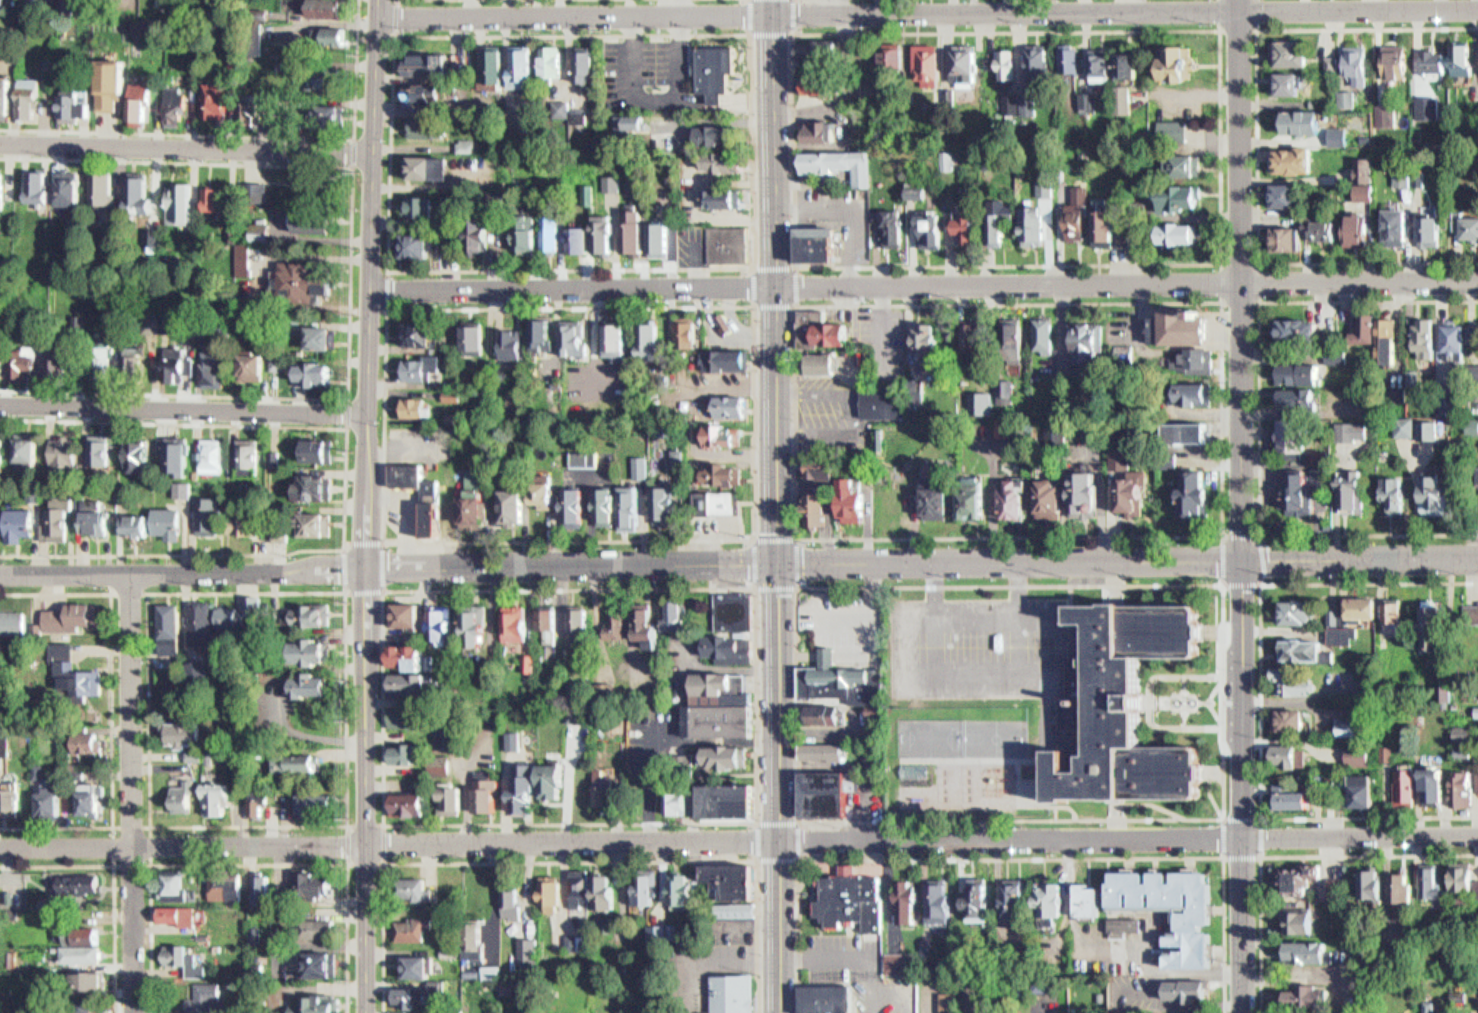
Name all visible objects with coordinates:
building: (2, 3)
building: (314, 7)
road: (1359, 9)
road: (807, 11)
building: (57, 16)
building: (319, 18)
road: (1238, 28)
road: (770, 33)
road: (393, 35)
building: (137, 39)
building: (321, 48)
building: (817, 48)
building: (247, 49)
building: (1296, 52)
building: (895, 57)
building: (1466, 58)
building: (554, 60)
building: (1071, 60)
building: (433, 61)
building: (1040, 61)
building: (1435, 61)
building: (1183, 62)
building: (1399, 62)
building: (1106, 63)
building: (928, 64)
building: (1004, 64)
building: (1133, 64)
building: (1360, 64)
building: (590, 65)
building: (500, 66)
building: (524, 66)
building: (967, 66)
building: (719, 69)
building: (278, 76)
building: (1291, 82)
building: (816, 84)
building: (430, 92)
building: (326, 95)
building: (106, 96)
building: (30, 98)
building: (219, 98)
building: (1128, 99)
building: (142, 103)
building: (1011, 103)
building: (74, 105)
building: (258, 107)
building: (1, 110)
building: (21, 110)
building: (133, 112)
building: (213, 115)
building: (337, 115)
building: (67, 116)
building: (175, 117)
building: (298, 118)
building: (1305, 121)
building: (274, 122)
building: (633, 124)
building: (243, 126)
building: (429, 126)
building: (321, 127)
building: (824, 130)
building: (1182, 131)
building: (721, 133)
road: (1257, 143)
building: (468, 145)
road: (252, 148)
road: (359, 151)
road: (184, 157)
building: (1299, 159)
building: (725, 160)
building: (841, 164)
building: (1187, 164)
building: (432, 166)
building: (1369, 179)
building: (40, 185)
building: (72, 186)
building: (103, 188)
building: (141, 188)
building: (324, 188)
building: (2, 189)
building: (921, 191)
building: (1287, 194)
building: (724, 197)
building: (1185, 197)
building: (216, 198)
building: (181, 202)
building: (424, 206)
building: (1081, 221)
building: (320, 222)
building: (1472, 223)
building: (1038, 225)
building: (970, 226)
building: (1403, 226)
building: (894, 227)
building: (1001, 227)
building: (931, 228)
building: (1114, 228)
building: (1325, 229)
building: (1361, 229)
building: (637, 230)
building: (1437, 230)
building: (261, 232)
building: (1185, 232)
building: (554, 233)
building: (608, 233)
building: (487, 235)
building: (1288, 237)
building: (582, 238)
building: (531, 239)
building: (663, 239)
building: (820, 243)
building: (421, 244)
building: (729, 244)
road: (1221, 262)
road: (389, 270)
road: (1359, 280)
building: (307, 281)
road: (350, 283)
road: (804, 285)
road: (1256, 301)
road: (1218, 305)
road: (794, 306)
road: (386, 307)
road: (385, 313)
building: (721, 315)
building: (1189, 326)
building: (1308, 326)
building: (1370, 327)
building: (833, 331)
building: (420, 333)
building: (547, 333)
building: (689, 333)
building: (978, 334)
building: (322, 335)
building: (1430, 335)
building: (1045, 336)
building: (1460, 336)
building: (578, 337)
building: (477, 338)
building: (930, 338)
building: (1017, 338)
building: (621, 339)
building: (656, 339)
building: (1391, 339)
building: (1089, 341)
building: (516, 343)
building: (734, 354)
building: (3, 357)
building: (1339, 357)
building: (133, 359)
building: (25, 360)
building: (64, 360)
building: (1202, 360)
building: (179, 361)
building: (825, 361)
building: (255, 362)
building: (102, 365)
building: (214, 365)
building: (421, 366)
building: (311, 373)
building: (1305, 373)
building: (1196, 393)
road: (349, 396)
building: (1305, 397)
building: (885, 400)
building: (735, 402)
building: (1451, 405)
road: (182, 407)
building: (415, 407)
parking lot: (828, 412)
road: (1259, 416)
building: (1473, 424)
building: (1406, 425)
building: (1429, 429)
building: (1357, 430)
building: (1192, 431)
building: (724, 432)
building: (1297, 434)
building: (27, 446)
building: (1, 447)
building: (66, 450)
building: (321, 450)
building: (101, 454)
building: (212, 455)
building: (248, 455)
building: (139, 456)
building: (178, 457)
building: (587, 457)
building: (643, 467)
building: (734, 469)
building: (821, 469)
building: (317, 486)
road: (344, 488)
building: (183, 489)
building: (1356, 489)
building: (1092, 490)
building: (1305, 490)
building: (1136, 492)
building: (1201, 492)
building: (1399, 492)
building: (1440, 493)
building: (543, 494)
building: (424, 495)
building: (940, 496)
building: (1054, 497)
building: (728, 498)
building: (856, 498)
building: (1017, 499)
building: (666, 503)
building: (975, 503)
building: (576, 505)
road: (364, 506)
road: (776, 506)
road: (1242, 506)
building: (606, 507)
building: (632, 507)
building: (820, 507)
building: (477, 509)
building: (513, 511)
building: (212, 515)
building: (100, 520)
building: (171, 520)
building: (24, 523)
building: (316, 523)
building: (138, 524)
building: (251, 524)
building: (282, 529)
road: (1360, 558)
traffic signals: (1242, 560)
traffic signals: (778, 561)
road: (620, 564)
road: (936, 579)
road: (1020, 579)
road: (1260, 582)
road: (796, 584)
road: (383, 585)
road: (345, 590)
road: (111, 591)
building: (255, 604)
building: (1367, 606)
building: (733, 610)
building: (1300, 611)
building: (408, 613)
building: (313, 614)
building: (1338, 615)
building: (231, 616)
building: (675, 616)
building: (73, 617)
building: (203, 621)
building: (620, 621)
building: (514, 622)
building: (577, 622)
building: (645, 622)
building: (14, 623)
building: (443, 623)
building: (548, 624)
building: (1438, 626)
building: (479, 627)
building: (171, 628)
building: (1338, 634)
parking lot: (988, 646)
building: (730, 647)
building: (1305, 649)
building: (315, 650)
building: (412, 655)
building: (526, 660)
building: (77, 673)
building: (840, 678)
building: (1295, 681)
building: (408, 683)
building: (313, 684)
road: (1259, 701)
building: (719, 706)
building: (1131, 709)
road: (112, 710)
building: (877, 711)
building: (1476, 711)
building: (827, 715)
building: (406, 717)
building: (1291, 720)
building: (1351, 726)
building: (187, 732)
building: (1462, 733)
park: (934, 737)
park: (998, 737)
building: (89, 741)
building: (510, 742)
building: (5, 745)
building: (821, 751)
building: (409, 753)
building: (1355, 753)
building: (1292, 755)
building: (726, 757)
road: (976, 759)
road: (1049, 760)
building: (298, 763)
building: (440, 764)
building: (918, 770)
building: (549, 781)
building: (1405, 783)
building: (602, 784)
building: (1438, 784)
building: (1361, 788)
building: (1466, 788)
building: (521, 790)
road: (131, 792)
building: (485, 792)
building: (824, 794)
building: (12, 796)
building: (187, 796)
building: (1292, 797)
building: (92, 798)
building: (219, 798)
building: (451, 800)
building: (726, 801)
building: (53, 803)
building: (258, 803)
building: (318, 803)
building: (676, 803)
building: (411, 804)
road: (1148, 804)
road: (1070, 807)
road: (1222, 816)
road: (1222, 819)
road: (754, 821)
road: (1359, 836)
road: (620, 839)
road: (1290, 855)
road: (1010, 857)
road: (797, 858)
road: (571, 860)
road: (383, 861)
road: (149, 863)
road: (249, 863)
building: (1466, 876)
building: (732, 879)
road: (113, 882)
building: (174, 882)
building: (315, 882)
building: (1432, 882)
building: (78, 884)
building: (1375, 884)
building: (228, 886)
building: (1403, 886)
building: (1336, 887)
building: (265, 888)
building: (679, 889)
building: (415, 890)
building: (641, 890)
building: (603, 891)
building: (548, 892)
building: (577, 892)
building: (856, 893)
building: (1049, 899)
building: (1088, 899)
building: (509, 900)
building: (978, 900)
building: (1013, 900)
building: (908, 901)
building: (941, 902)
building: (740, 907)
building: (1201, 916)
building: (181, 918)
building: (1302, 920)
building: (1124, 924)
building: (323, 928)
building: (414, 928)
building: (652, 933)
building: (476, 938)
building: (570, 942)
building: (81, 945)
building: (927, 946)
building: (527, 950)
building: (1309, 951)
building: (185, 958)
building: (900, 963)
building: (324, 964)
building: (418, 967)
building: (97, 980)
building: (1047, 984)
building: (1183, 991)
building: (732, 992)
building: (410, 996)
building: (829, 996)
building: (1313, 996)
building: (204, 997)
building: (949, 1000)
building: (323, 1003)
building: (827, 1011)

